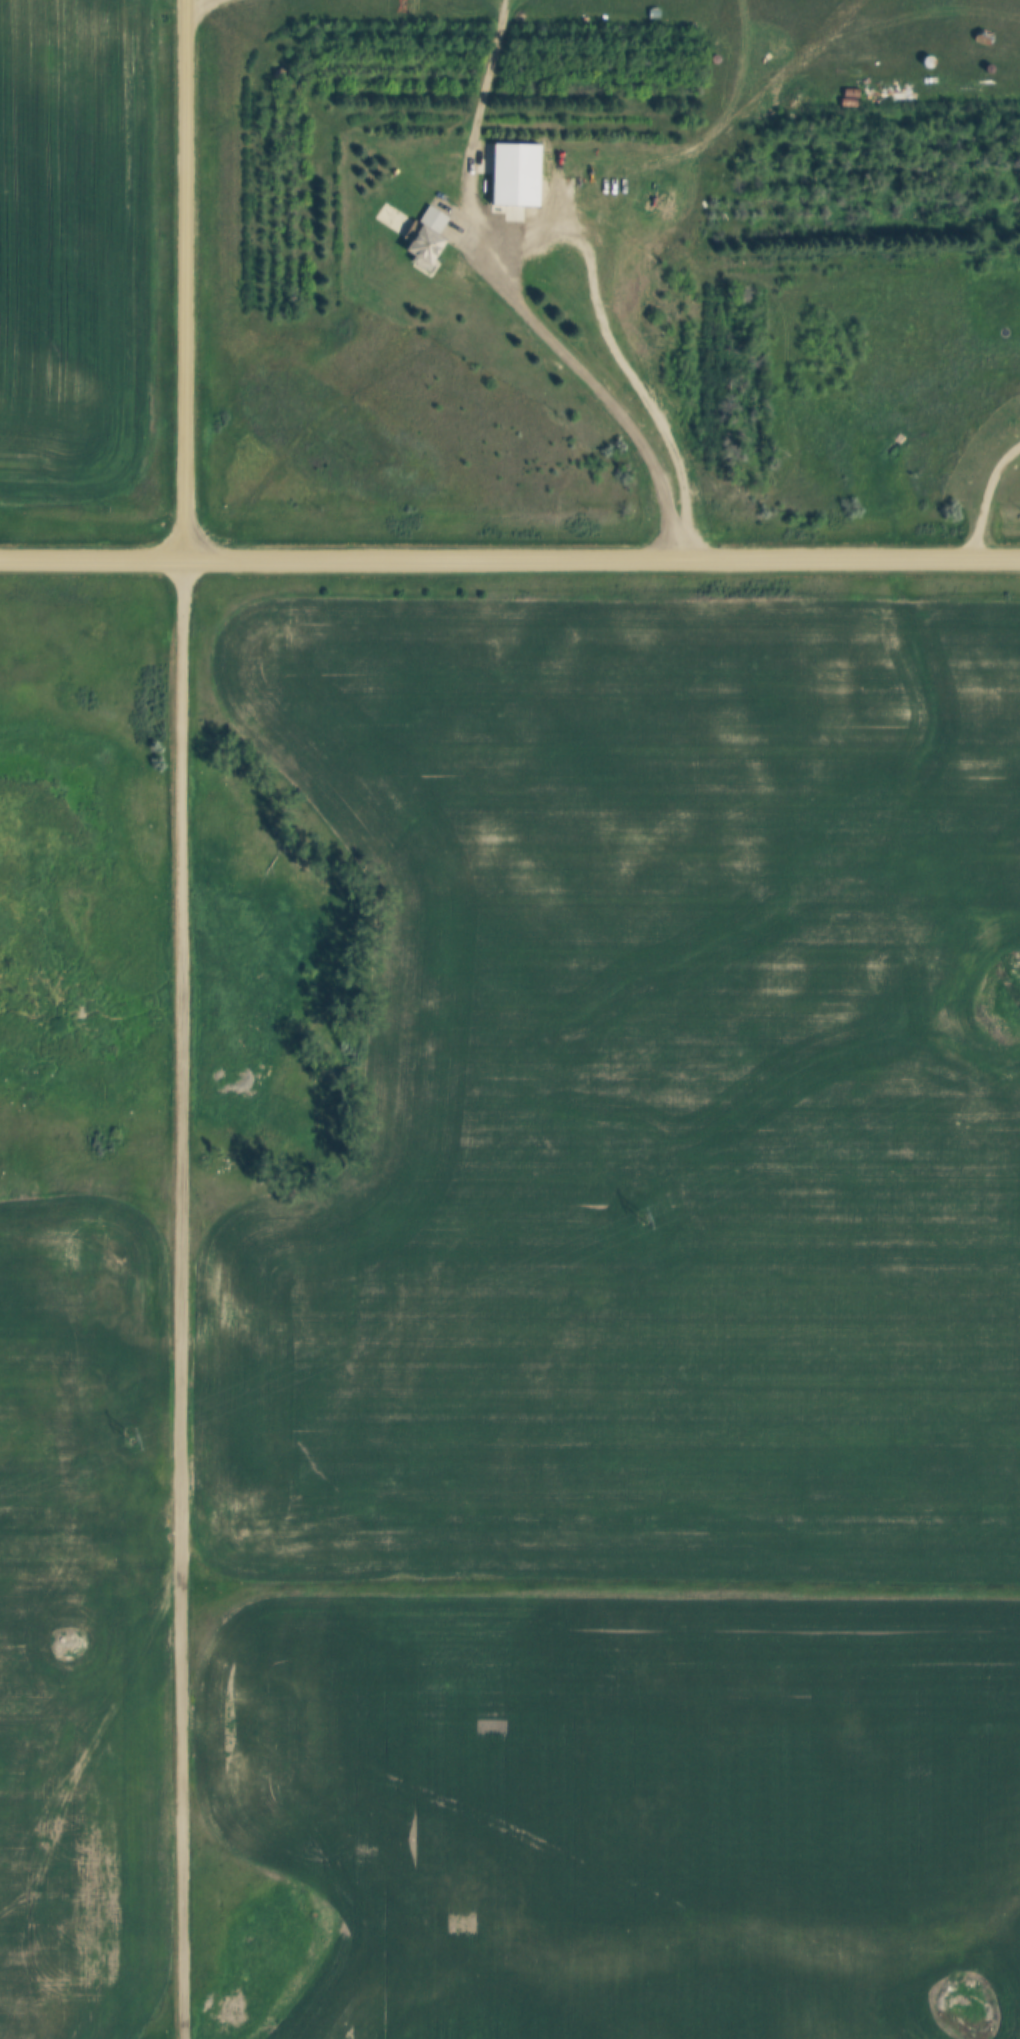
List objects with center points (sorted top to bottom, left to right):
building: (431, 218)
building: (419, 248)
road: (599, 389)
road: (987, 502)
road: (510, 560)
road: (182, 1019)
power tower: (641, 1217)
power tower: (129, 1437)

